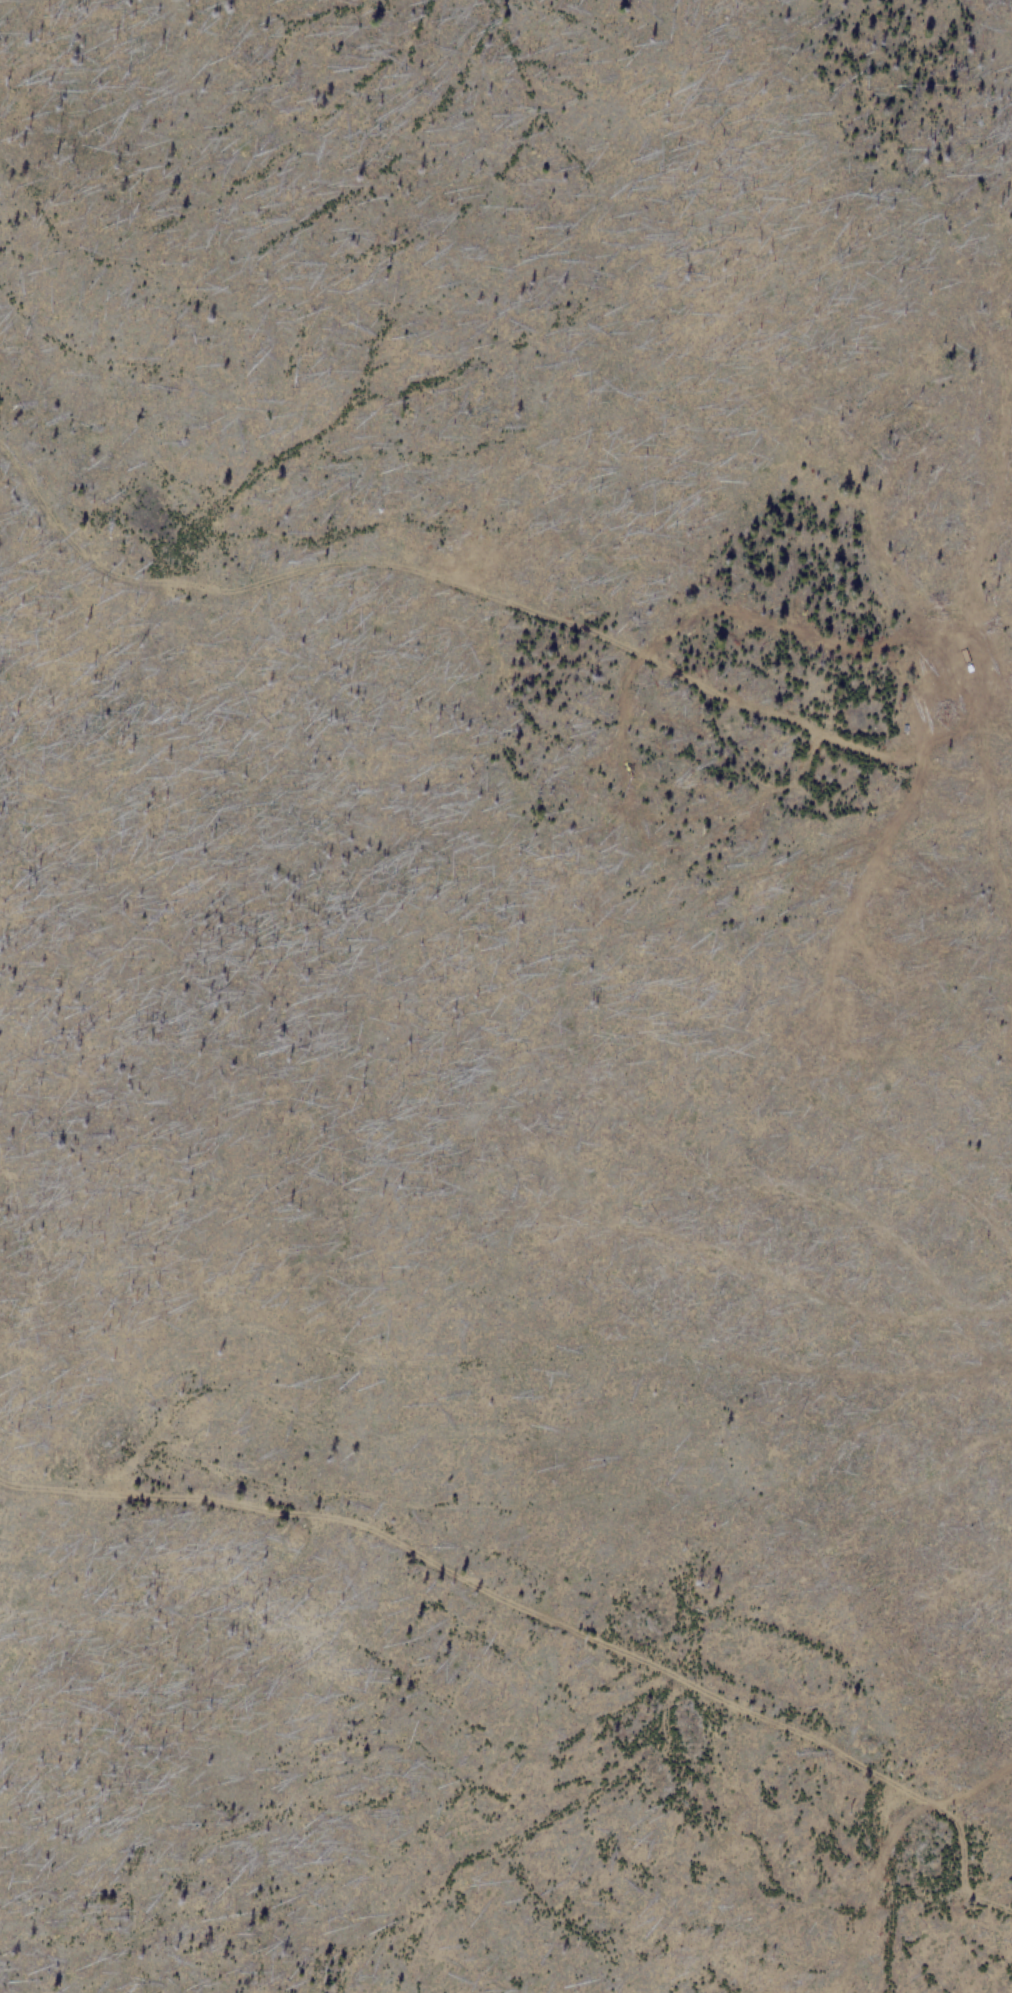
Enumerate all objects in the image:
road: (447, 583)
road: (732, 749)
road: (807, 760)
road: (895, 838)
road: (549, 1620)

